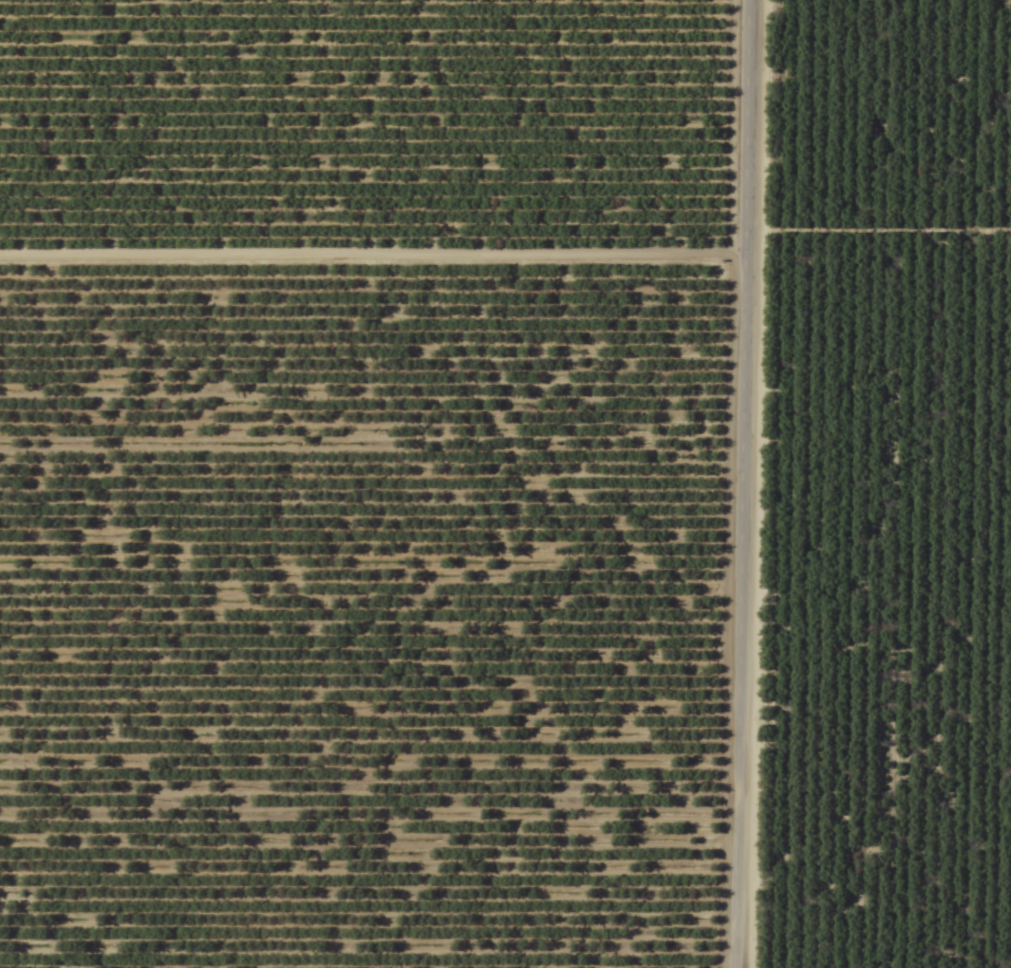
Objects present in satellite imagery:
crop: (505, 484)
road: (741, 484)

